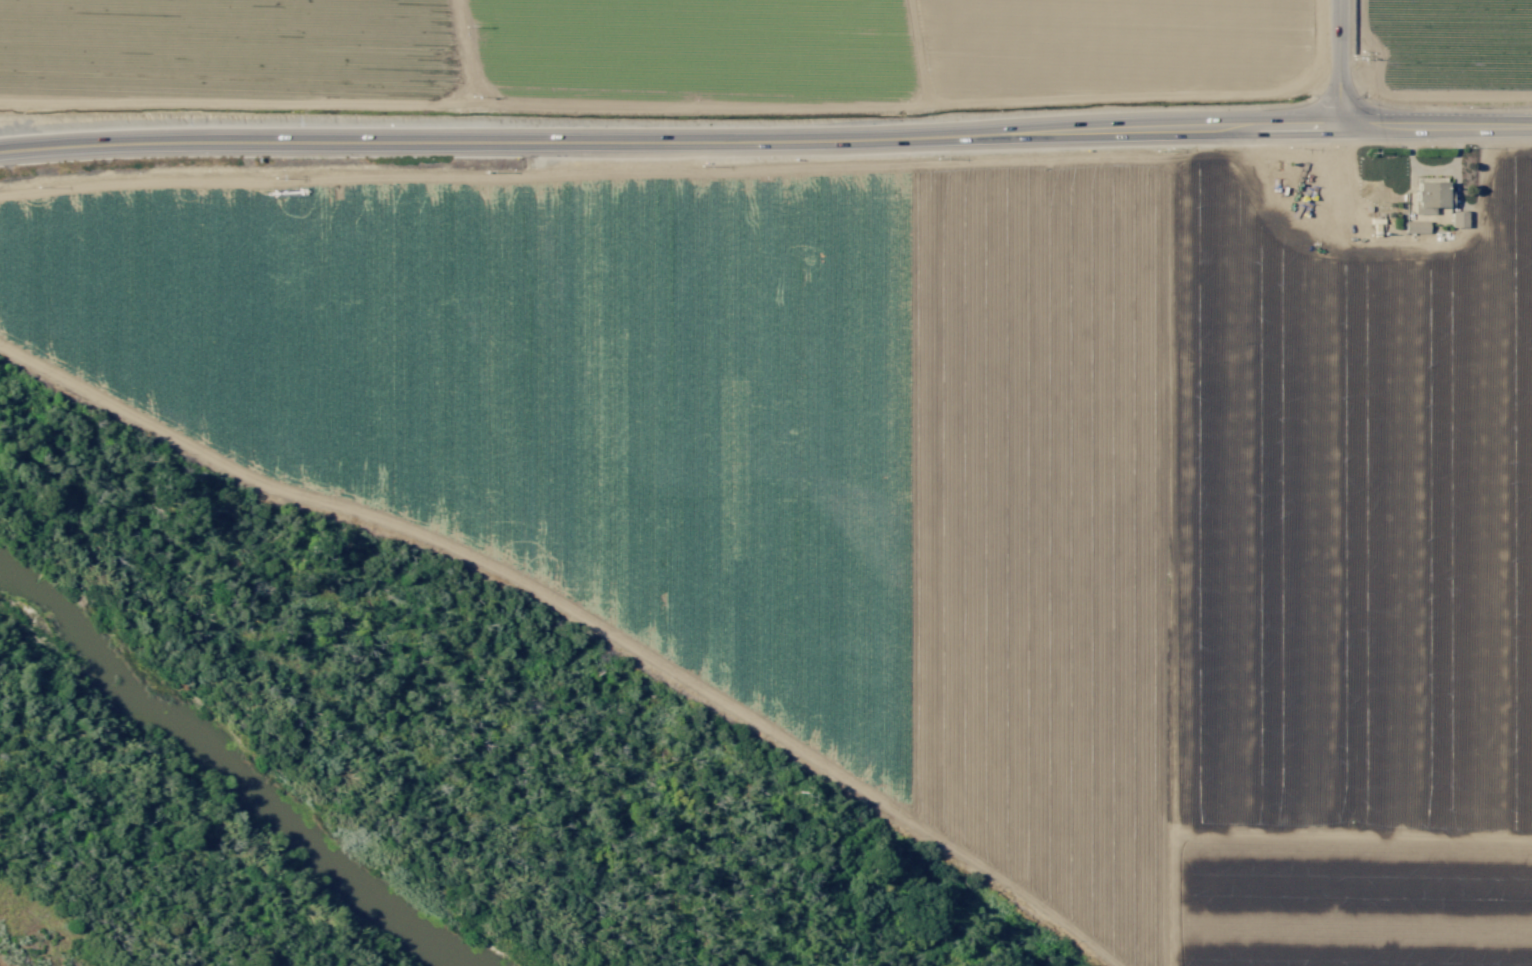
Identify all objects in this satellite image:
crop: (771, 45)
road: (1340, 63)
road: (765, 131)
building: (1429, 195)
building: (1414, 226)
crop: (936, 487)

